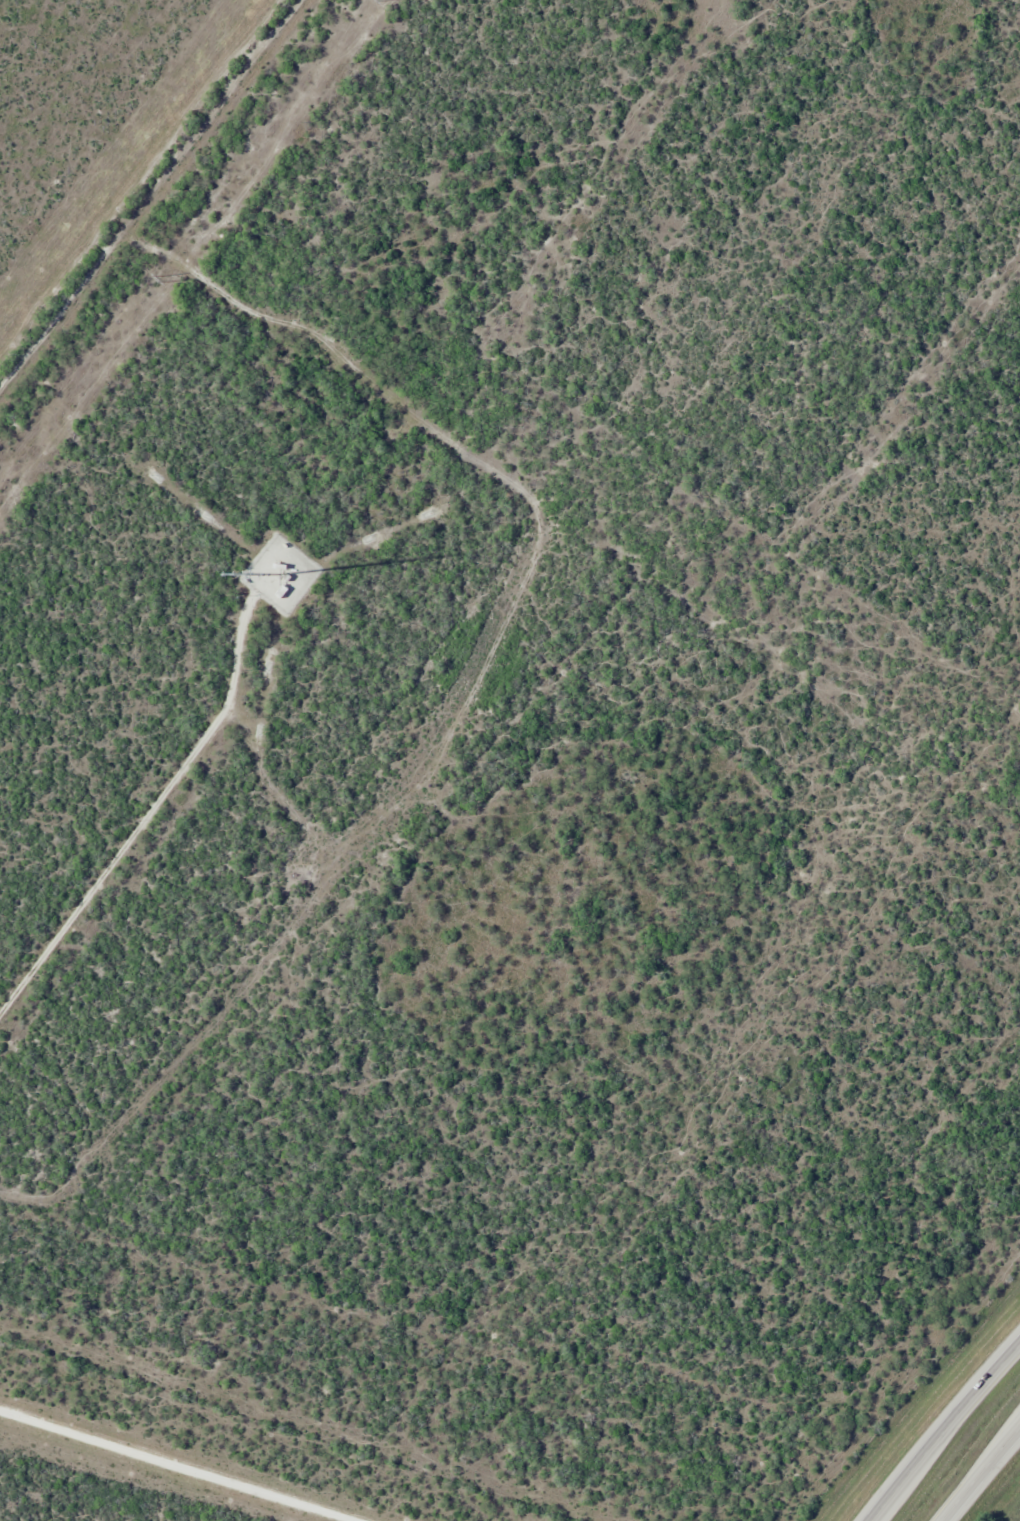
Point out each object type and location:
power tower: (165, 277)
road: (946, 1433)
road: (189, 1471)
road: (989, 1485)

